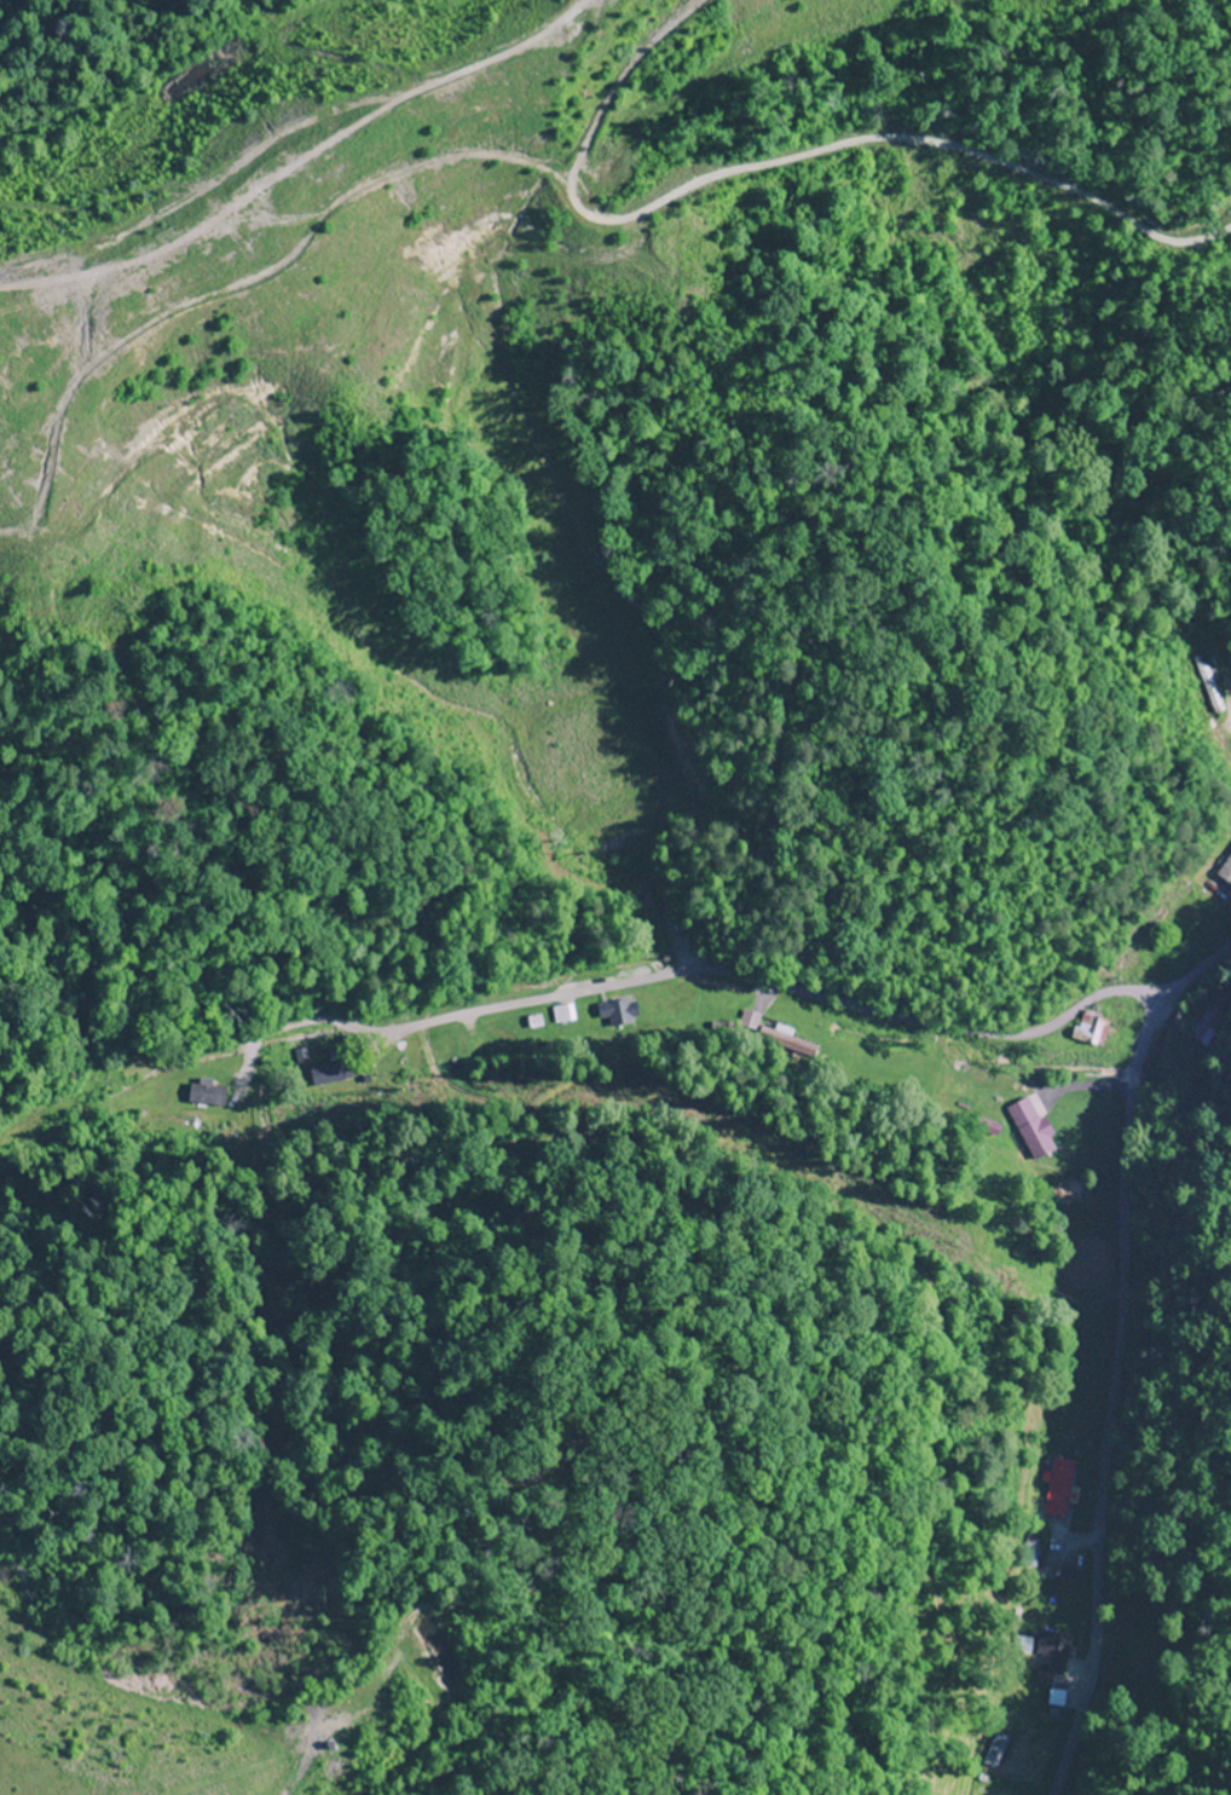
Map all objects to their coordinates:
building: (618, 1012)
building: (562, 1015)
building: (1091, 1028)
building: (1204, 1028)
building: (325, 1073)
building: (207, 1097)
building: (1031, 1129)
road: (722, 1148)
road: (1119, 1354)
building: (995, 1750)

